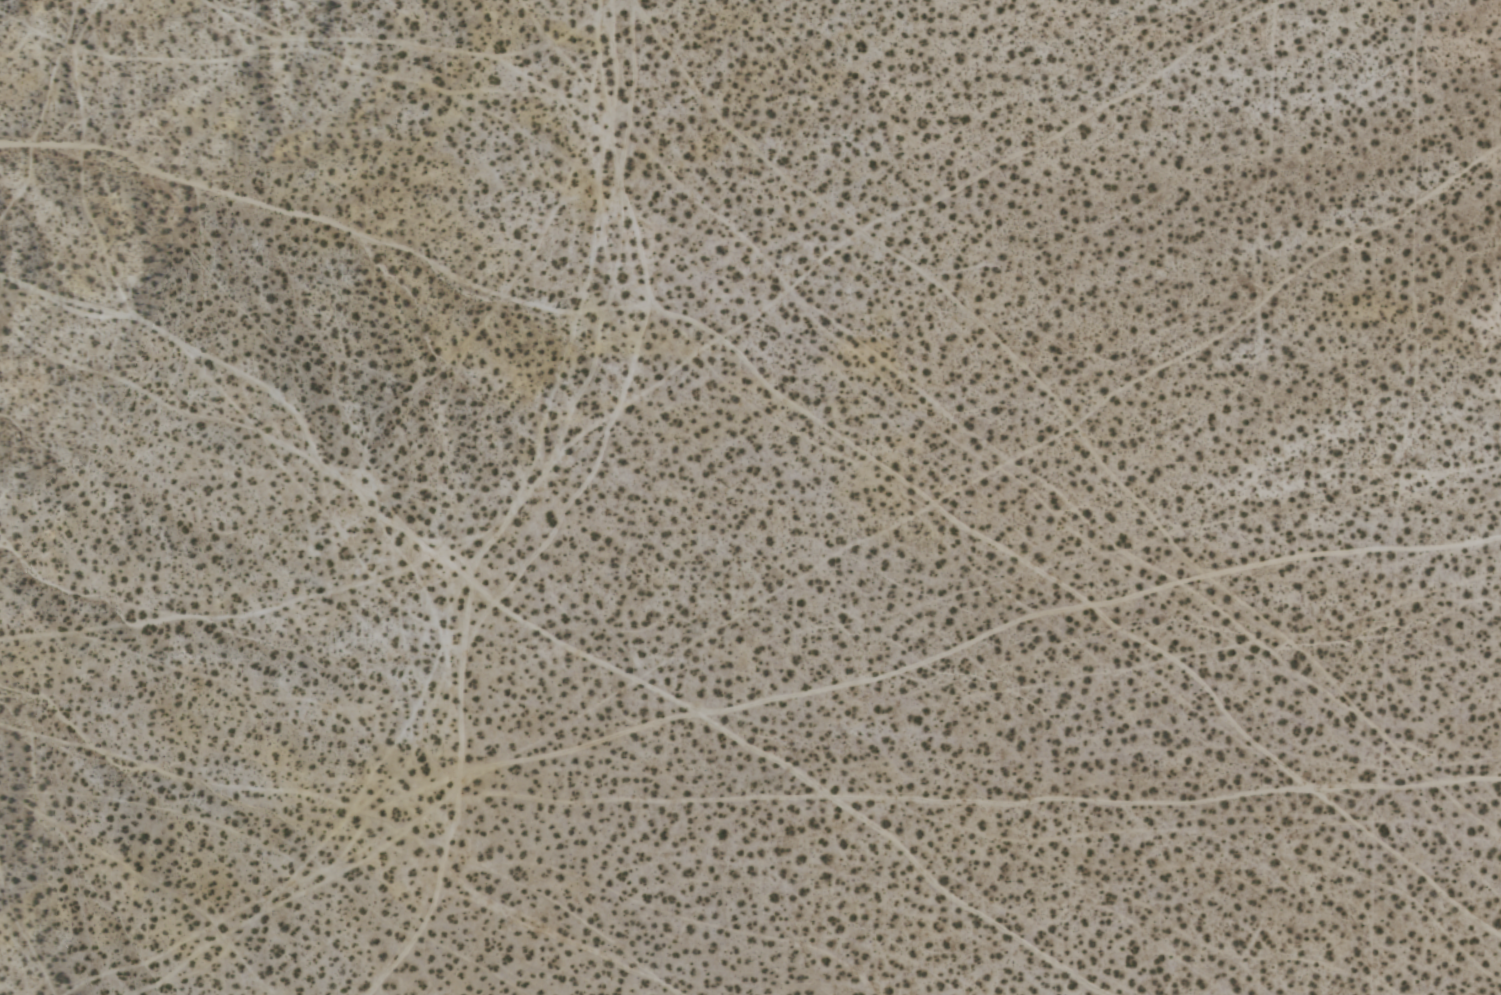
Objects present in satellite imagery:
crop: (750, 497)

